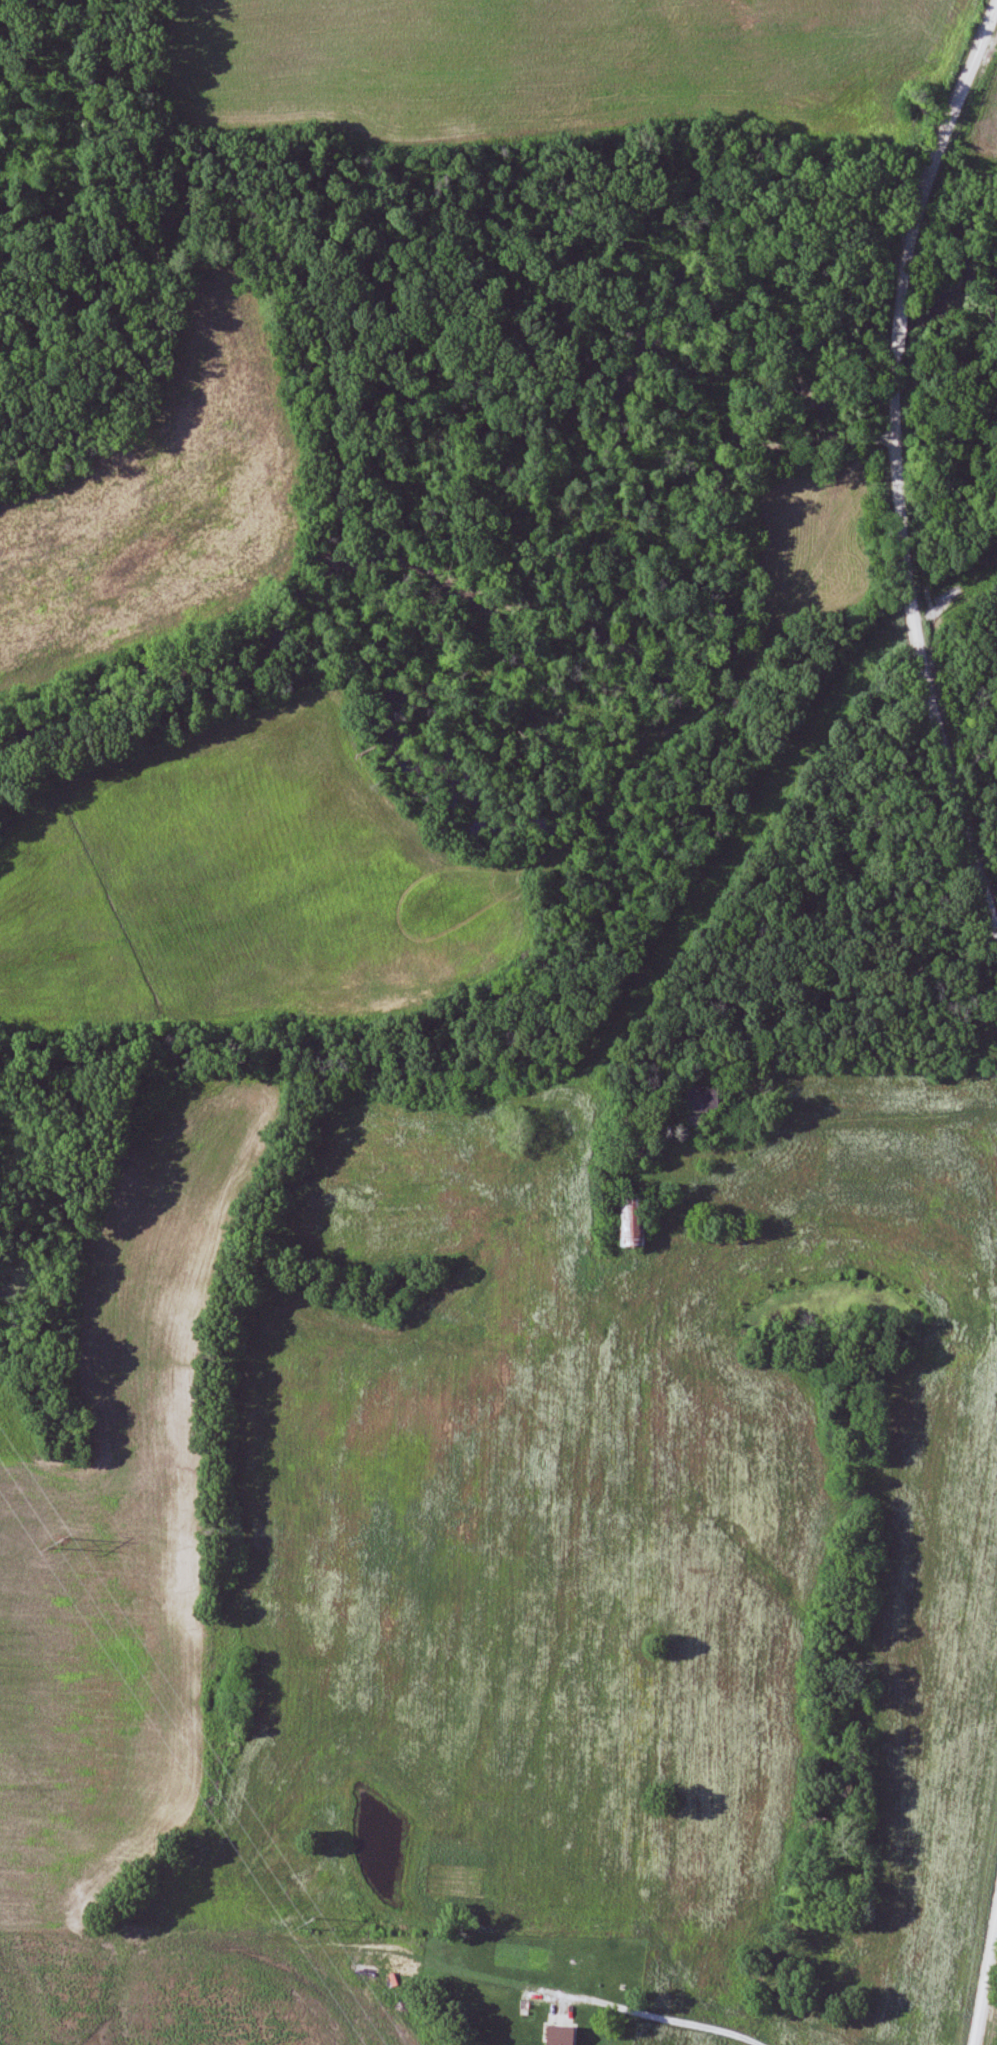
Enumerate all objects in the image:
road: (893, 459)
building: (703, 1099)
building: (632, 1222)
power tower: (50, 1542)
power tower: (301, 1923)
road: (985, 1970)
road: (680, 2013)

